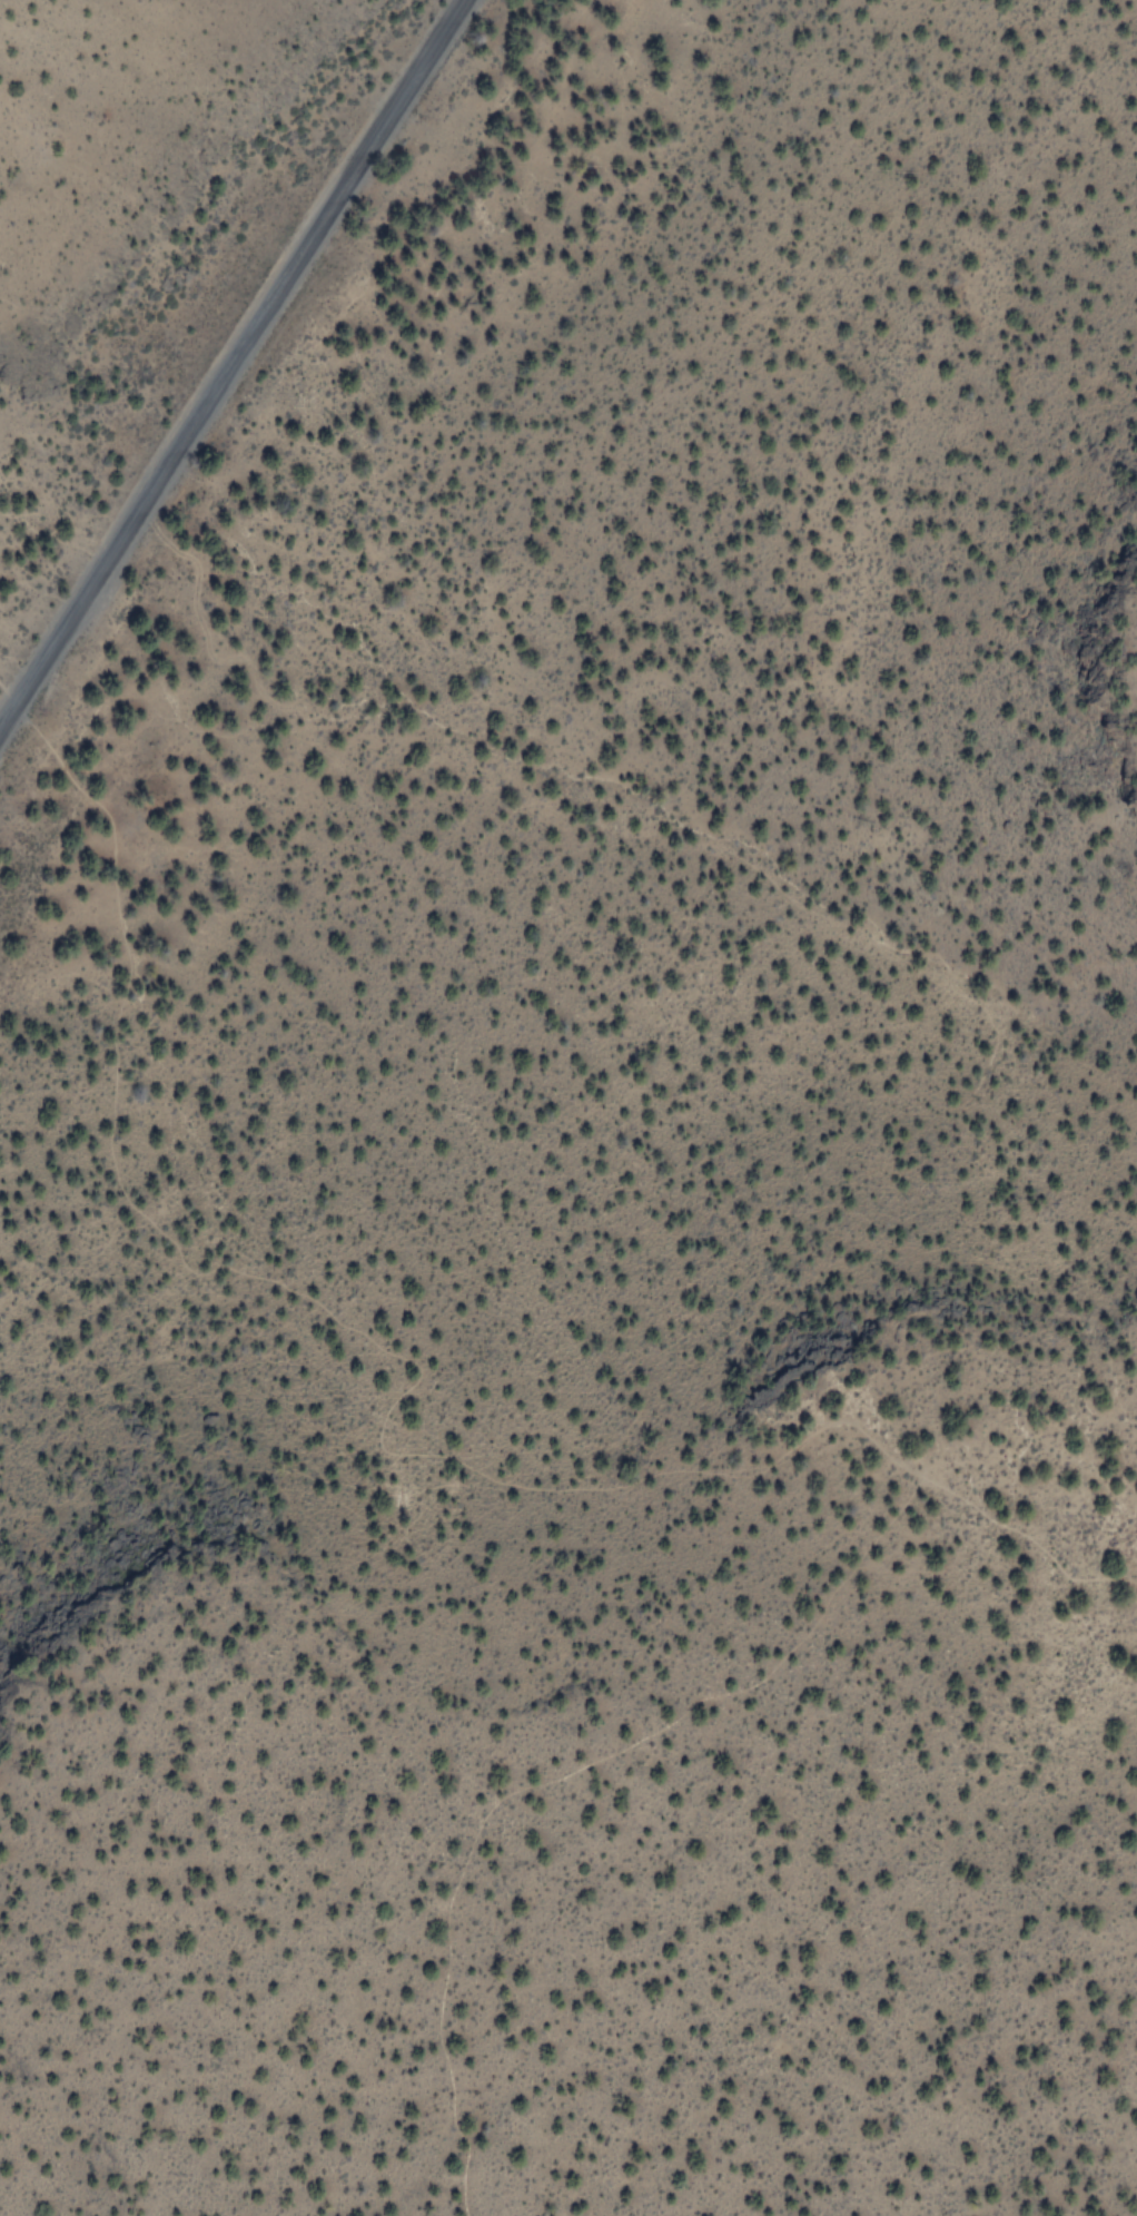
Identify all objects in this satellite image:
road: (229, 367)

